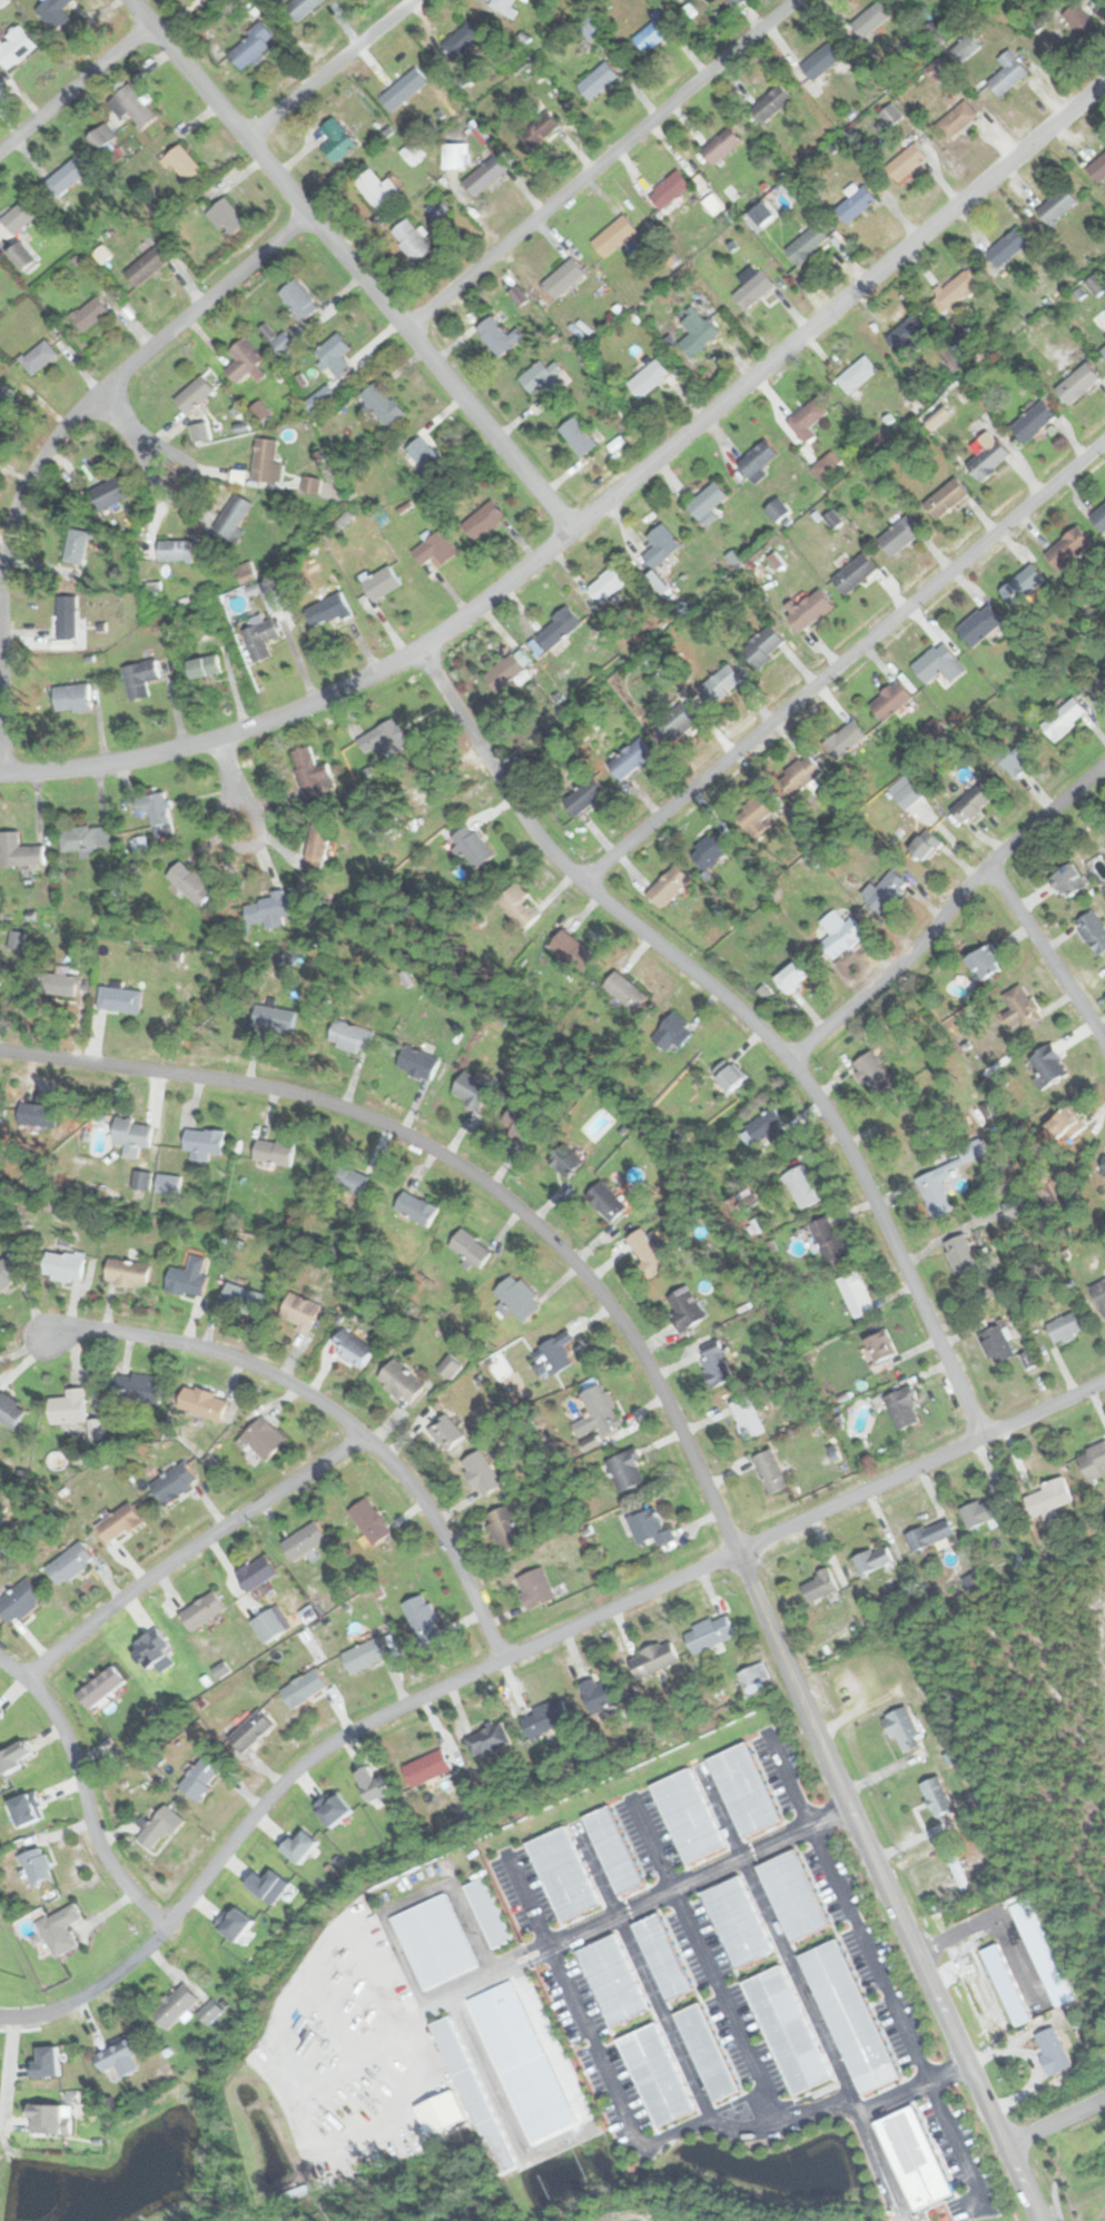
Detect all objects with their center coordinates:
building: (204, 0)
building: (502, 6)
building: (300, 8)
building: (53, 12)
building: (871, 20)
building: (1079, 21)
building: (653, 31)
building: (462, 40)
building: (250, 47)
building: (14, 48)
building: (964, 50)
building: (821, 61)
road: (328, 69)
building: (937, 70)
building: (1007, 73)
building: (596, 80)
road: (75, 86)
building: (403, 89)
building: (772, 103)
building: (132, 107)
building: (890, 116)
building: (957, 120)
building: (539, 130)
building: (335, 140)
building: (721, 146)
building: (906, 161)
building: (181, 164)
road: (598, 164)
building: (1097, 168)
building: (486, 174)
building: (68, 176)
building: (375, 187)
building: (669, 190)
building: (856, 205)
building: (1057, 206)
building: (226, 216)
building: (19, 217)
building: (614, 236)
building: (412, 239)
building: (807, 244)
building: (1006, 247)
road: (351, 264)
building: (146, 266)
building: (563, 278)
building: (752, 286)
building: (957, 289)
building: (298, 299)
building: (89, 314)
building: (697, 332)
building: (907, 332)
building: (499, 336)
building: (1103, 349)
building: (334, 354)
building: (38, 356)
building: (243, 359)
building: (857, 374)
building: (544, 379)
building: (644, 381)
building: (1077, 384)
building: (194, 394)
building: (7, 398)
building: (382, 404)
building: (808, 419)
building: (1034, 422)
building: (201, 431)
road: (131, 436)
building: (578, 437)
road: (52, 441)
building: (425, 455)
building: (989, 460)
building: (266, 461)
building: (757, 463)
building: (109, 492)
building: (944, 501)
building: (708, 502)
road: (595, 509)
building: (778, 510)
building: (234, 517)
building: (1098, 517)
building: (483, 520)
building: (900, 535)
building: (661, 545)
building: (77, 547)
building: (437, 547)
building: (1068, 547)
building: (175, 551)
building: (246, 573)
building: (855, 573)
building: (610, 582)
building: (381, 583)
building: (1022, 585)
building: (326, 610)
building: (67, 616)
building: (979, 624)
building: (558, 628)
building: (260, 638)
building: (763, 646)
road: (843, 660)
building: (939, 664)
building: (204, 665)
building: (505, 673)
building: (139, 678)
building: (721, 683)
building: (1098, 687)
building: (71, 698)
building: (891, 699)
building: (1064, 719)
building: (675, 722)
building: (384, 739)
building: (845, 740)
building: (1017, 758)
building: (631, 759)
building: (309, 767)
building: (802, 773)
road: (231, 779)
building: (906, 792)
building: (584, 797)
building: (971, 803)
building: (155, 811)
building: (757, 811)
building: (83, 838)
building: (471, 843)
building: (926, 846)
building: (317, 847)
building: (710, 850)
building: (18, 851)
building: (190, 881)
building: (1068, 881)
building: (669, 886)
building: (885, 891)
building: (521, 906)
building: (273, 908)
road: (946, 912)
building: (1093, 931)
building: (840, 934)
building: (574, 948)
road: (1044, 952)
building: (986, 961)
building: (792, 976)
building: (0, 977)
building: (55, 983)
building: (624, 990)
building: (119, 999)
building: (1022, 1009)
road: (741, 1011)
building: (274, 1017)
building: (673, 1033)
building: (351, 1036)
building: (418, 1063)
building: (1050, 1065)
building: (874, 1074)
building: (728, 1075)
building: (472, 1089)
building: (521, 1122)
building: (1066, 1122)
building: (763, 1131)
building: (131, 1136)
building: (203, 1143)
building: (274, 1152)
building: (564, 1158)
road: (461, 1166)
building: (1104, 1166)
building: (935, 1178)
building: (140, 1179)
building: (352, 1181)
building: (167, 1184)
building: (802, 1186)
building: (606, 1201)
building: (416, 1207)
building: (1016, 1208)
building: (829, 1238)
building: (644, 1244)
building: (470, 1248)
building: (964, 1258)
building: (63, 1265)
building: (6, 1273)
building: (127, 1273)
building: (191, 1275)
building: (857, 1294)
building: (1099, 1295)
building: (517, 1297)
building: (243, 1300)
building: (684, 1307)
building: (299, 1312)
building: (1067, 1326)
building: (997, 1344)
building: (880, 1345)
building: (352, 1348)
building: (555, 1352)
building: (716, 1362)
building: (448, 1366)
building: (401, 1382)
building: (138, 1388)
building: (204, 1403)
building: (67, 1408)
building: (904, 1408)
building: (602, 1410)
building: (9, 1411)
road: (335, 1412)
building: (747, 1413)
building: (448, 1432)
building: (263, 1438)
building: (1093, 1462)
building: (625, 1469)
building: (770, 1471)
building: (481, 1472)
building: (172, 1482)
building: (1049, 1499)
building: (981, 1512)
building: (368, 1521)
building: (118, 1523)
building: (649, 1527)
building: (505, 1528)
building: (929, 1533)
building: (303, 1541)
road: (187, 1549)
building: (871, 1559)
building: (69, 1562)
building: (255, 1573)
building: (534, 1587)
building: (819, 1587)
building: (904, 1588)
building: (19, 1601)
building: (201, 1610)
building: (422, 1617)
building: (267, 1626)
building: (709, 1633)
road: (536, 1642)
building: (152, 1650)
building: (364, 1655)
building: (653, 1660)
building: (754, 1674)
building: (100, 1688)
building: (303, 1688)
building: (599, 1694)
building: (544, 1720)
building: (249, 1733)
building: (905, 1734)
building: (487, 1739)
building: (426, 1768)
building: (200, 1777)
road: (787, 1779)
building: (743, 1789)
road: (83, 1793)
building: (937, 1797)
building: (688, 1815)
building: (158, 1829)
building: (612, 1850)
building: (36, 1866)
building: (562, 1874)
building: (959, 1874)
road: (889, 1886)
building: (791, 1895)
building: (487, 1914)
building: (737, 1922)
road: (857, 1929)
building: (60, 1931)
building: (434, 1942)
building: (661, 1957)
building: (611, 1980)
building: (1026, 1997)
building: (175, 2007)
road: (22, 2015)
building: (848, 2017)
building: (786, 2030)
building: (1052, 2052)
building: (704, 2053)
building: (118, 2057)
building: (654, 2075)
building: (473, 2095)
building: (1077, 2106)
road: (864, 2112)
road: (1056, 2116)
road: (955, 2140)
building: (912, 2159)
building: (1101, 2182)

